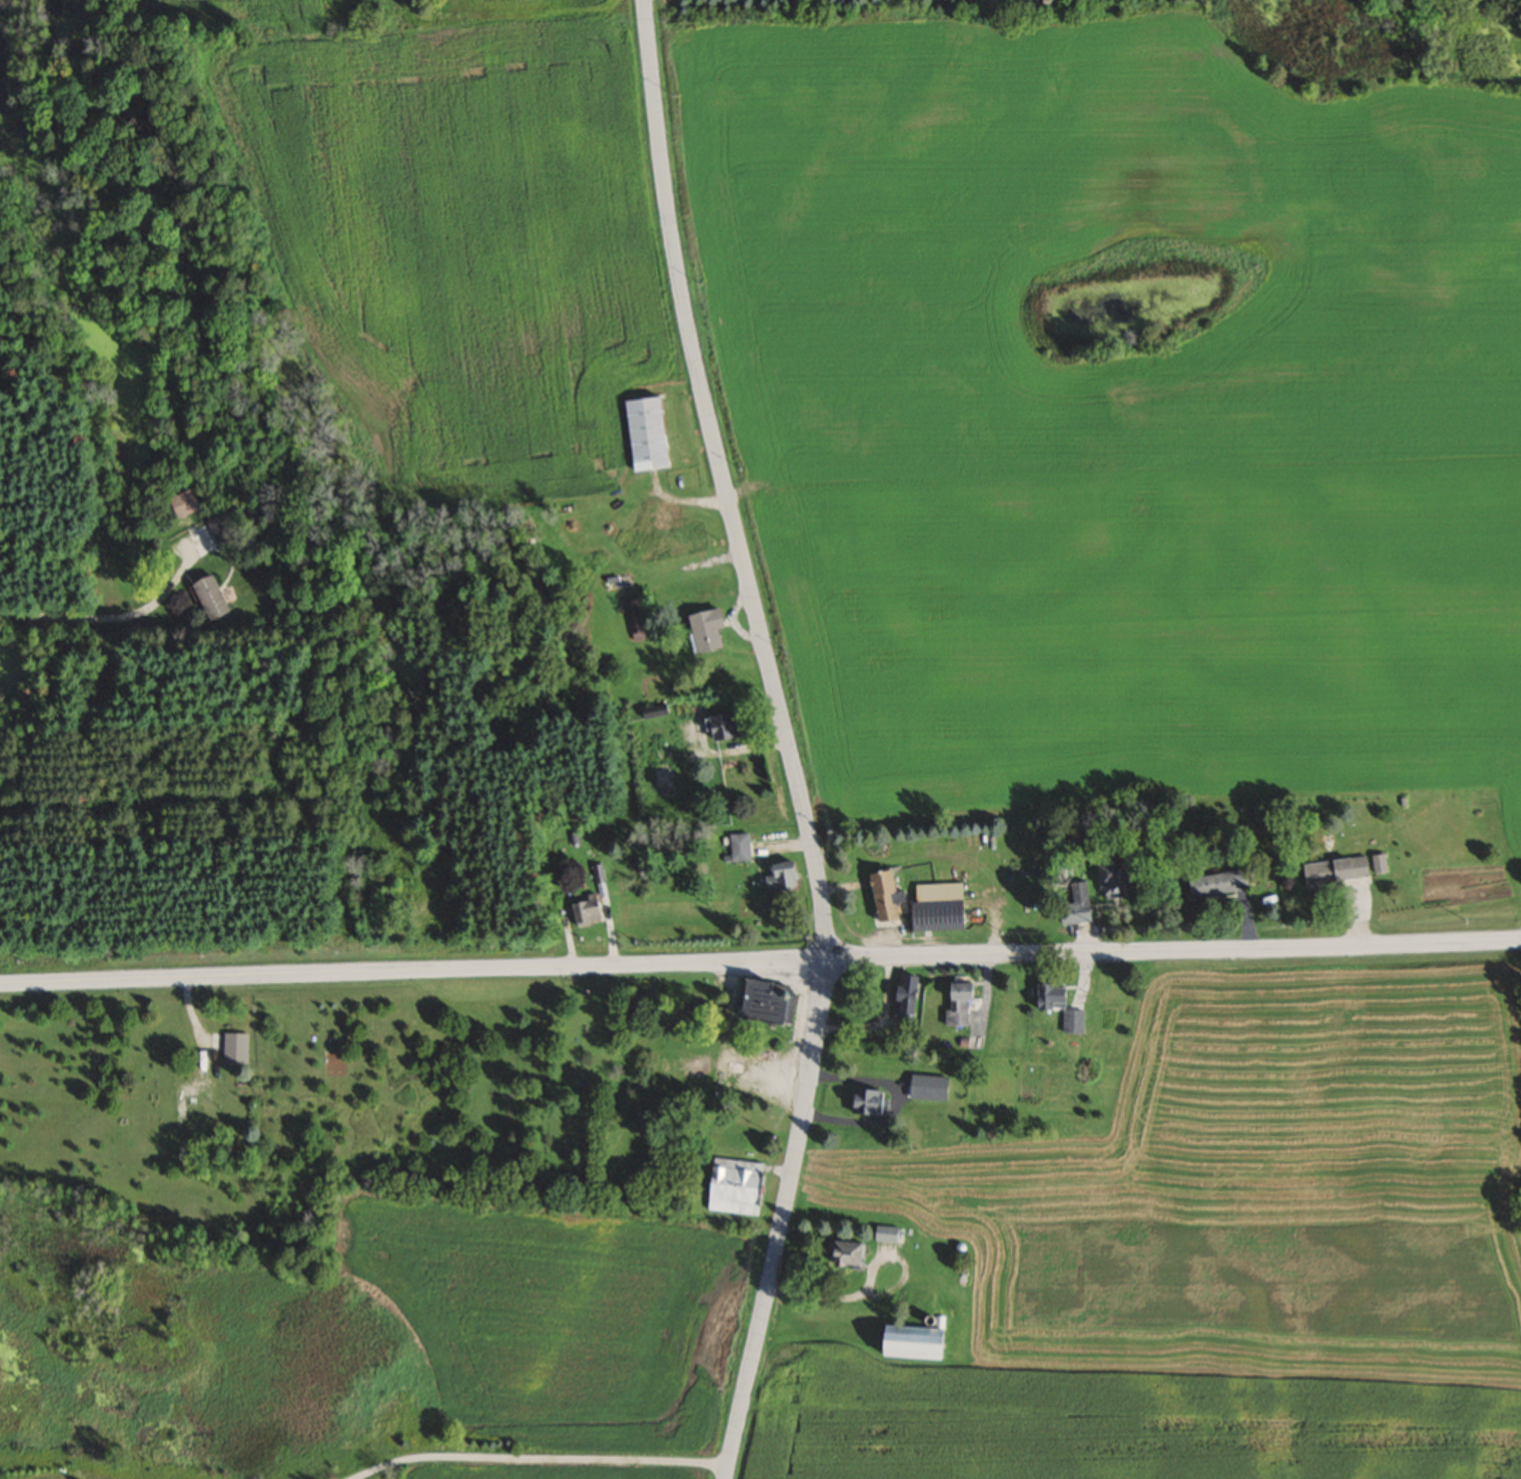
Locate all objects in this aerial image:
building: (644, 433)
building: (183, 503)
building: (220, 529)
building: (665, 542)
building: (208, 596)
building: (632, 620)
building: (702, 629)
building: (721, 725)
road: (786, 738)
building: (736, 846)
building: (1342, 868)
building: (777, 876)
building: (1111, 878)
building: (1216, 883)
building: (884, 897)
building: (936, 906)
building: (585, 910)
building: (1071, 911)
road: (760, 961)
building: (904, 1000)
building: (760, 1003)
building: (955, 1003)
building: (1056, 1006)
building: (231, 1047)
building: (925, 1087)
building: (864, 1102)
building: (713, 1178)
building: (884, 1233)
building: (842, 1252)
building: (907, 1340)
road: (547, 1468)

